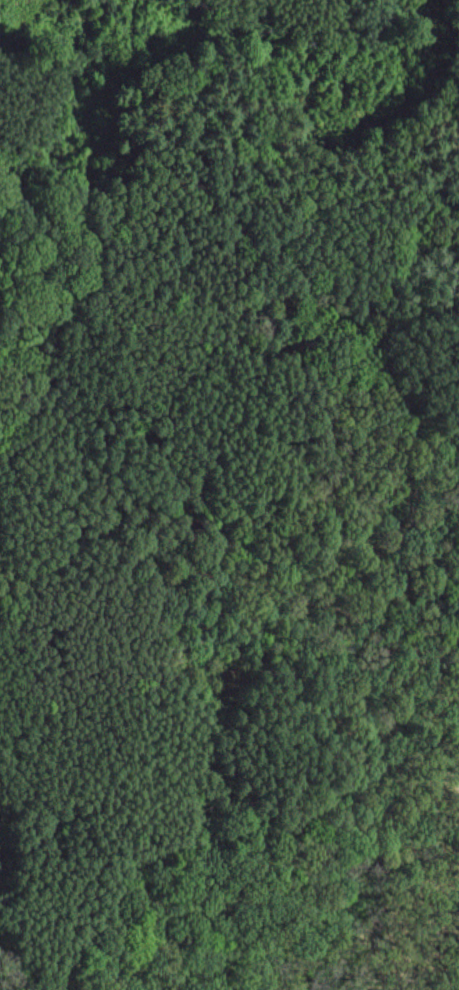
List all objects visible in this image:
road: (29, 240)
road: (224, 590)
road: (399, 923)

